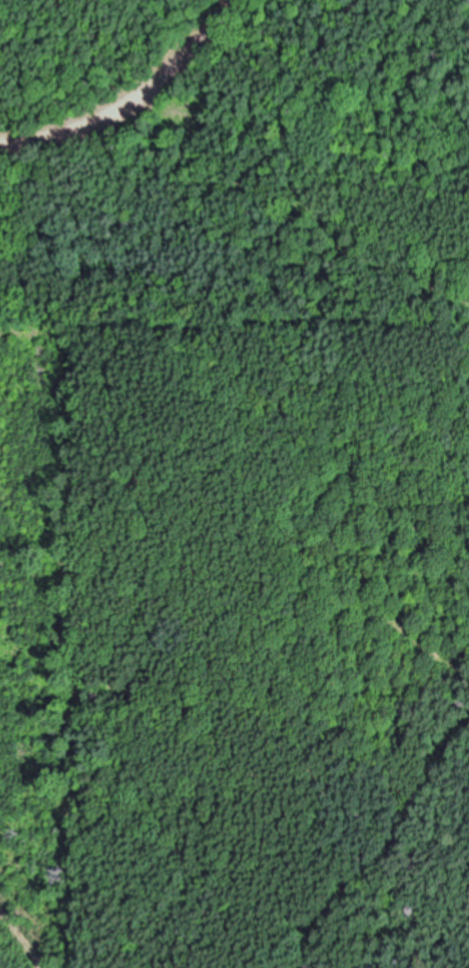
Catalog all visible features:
road: (134, 102)
road: (19, 952)

